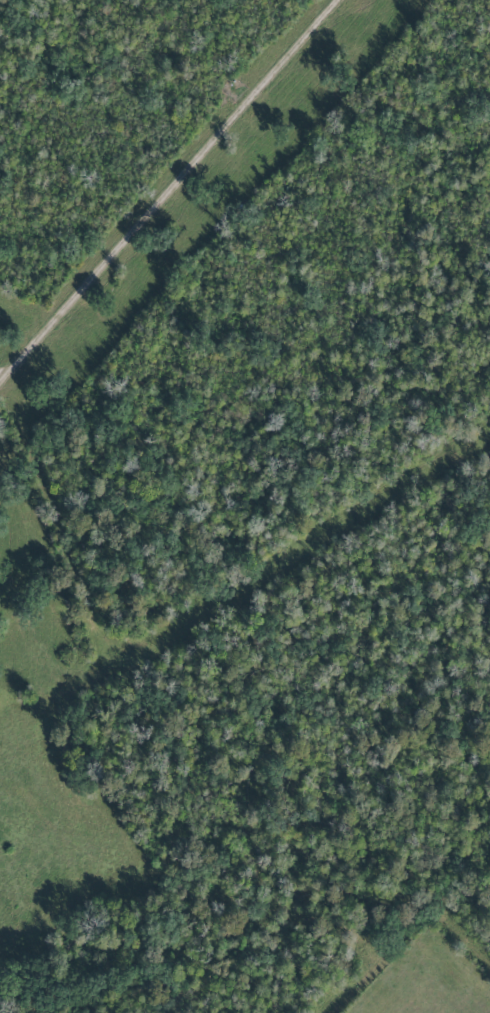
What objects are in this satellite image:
road: (173, 195)

